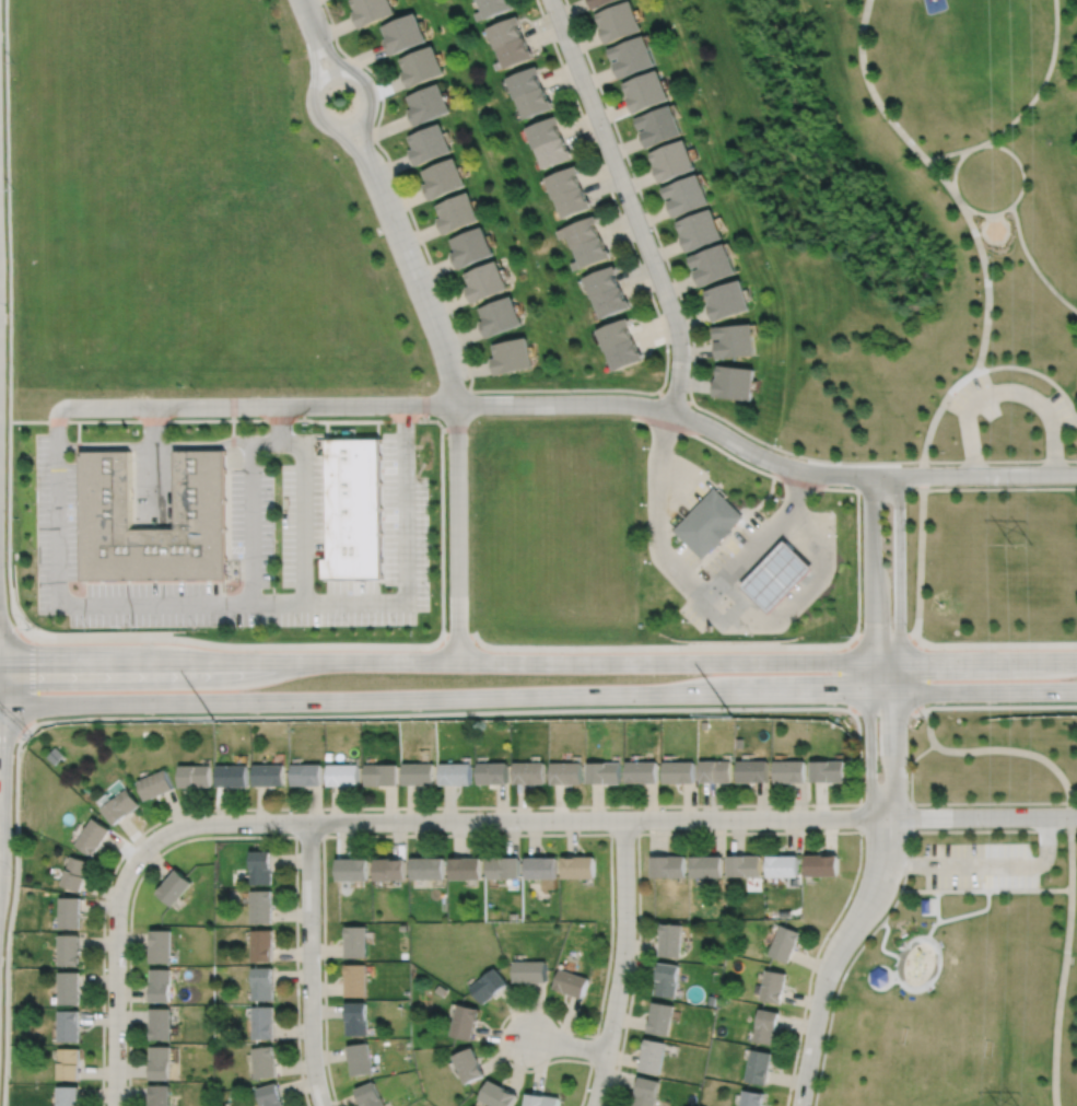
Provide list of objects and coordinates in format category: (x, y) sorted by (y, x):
building: (477, 0)
building: (604, 3)
building: (493, 9)
building: (373, 11)
road: (308, 18)
building: (621, 24)
building: (505, 34)
building: (406, 36)
street lamp: (335, 46)
road: (327, 54)
building: (515, 55)
building: (633, 56)
road: (316, 59)
building: (423, 69)
building: (526, 84)
building: (645, 88)
road: (871, 90)
building: (534, 103)
building: (430, 106)
road: (1027, 106)
road: (361, 121)
building: (658, 123)
street lamp: (610, 124)
building: (541, 128)
building: (428, 141)
road: (364, 144)
street lamp: (376, 144)
road: (353, 148)
building: (551, 150)
building: (671, 158)
road: (1017, 160)
building: (441, 176)
building: (561, 178)
building: (686, 191)
road: (959, 198)
building: (571, 199)
road: (630, 202)
road: (8, 210)
building: (455, 211)
road: (993, 214)
building: (699, 226)
building: (578, 229)
building: (995, 230)
road: (1002, 240)
building: (469, 245)
street lamp: (422, 247)
building: (588, 252)
road: (983, 258)
street lamp: (663, 259)
building: (712, 263)
road: (1033, 263)
park: (923, 271)
building: (483, 279)
building: (599, 279)
building: (727, 298)
building: (609, 300)
building: (497, 314)
street lamp: (14, 315)
building: (613, 331)
building: (735, 339)
building: (622, 352)
building: (510, 353)
road: (1038, 372)
road: (691, 381)
building: (734, 381)
street lamp: (468, 384)
road: (554, 388)
street lamp: (382, 389)
road: (1008, 391)
street lamp: (571, 392)
street lamp: (104, 393)
street lamp: (295, 393)
street lamp: (197, 394)
street lamp: (687, 394)
road: (674, 398)
parking lot: (974, 400)
road: (257, 406)
road: (455, 407)
road: (937, 414)
road: (330, 419)
road: (156, 426)
road: (377, 428)
road: (233, 431)
road: (79, 433)
road: (281, 438)
road: (155, 445)
street lamp: (646, 445)
street lamp: (772, 447)
street lamp: (277, 453)
street lamp: (417, 453)
street lamp: (32, 455)
road: (761, 455)
road: (1070, 459)
road: (679, 461)
road: (657, 462)
street lamp: (709, 468)
road: (809, 484)
road: (156, 485)
street lamp: (1012, 485)
road: (799, 488)
road: (967, 488)
building: (201, 490)
street lamp: (431, 492)
road: (678, 493)
street lamp: (908, 494)
street lamp: (277, 500)
street lamp: (32, 501)
street lamp: (643, 502)
street lamp: (862, 508)
building: (354, 510)
building: (709, 523)
gas station: (709, 523)
road: (739, 524)
road: (9, 526)
street lamp: (835, 534)
road: (303, 537)
street lamp: (431, 543)
street lamp: (277, 545)
power tower: (1020, 545)
street lamp: (33, 548)
parking lot: (670, 550)
road: (747, 550)
parking lot: (243, 551)
road: (406, 555)
road: (667, 560)
street lamp: (647, 561)
street lamp: (704, 575)
road: (920, 575)
building: (777, 577)
gas station: (777, 577)
street lamp: (277, 591)
street lamp: (432, 592)
street lamp: (34, 594)
road: (804, 597)
road: (139, 605)
street lamp: (684, 621)
building: (640, 624)
street lamp: (398, 625)
street lamp: (351, 626)
street lamp: (242, 627)
street lamp: (304, 627)
street lamp: (862, 627)
road: (16, 628)
street lamp: (134, 628)
street lamp: (196, 628)
street lamp: (909, 628)
street lamp: (30, 629)
street lamp: (89, 629)
street lamp: (31, 631)
street lamp: (750, 633)
street lamp: (189, 635)
street lamp: (850, 635)
road: (183, 640)
street lamp: (497, 640)
road: (998, 644)
road: (621, 647)
road: (898, 647)
road: (871, 648)
road: (538, 661)
road: (847, 675)
road: (538, 692)
road: (961, 706)
street lamp: (909, 726)
street lamp: (862, 727)
road: (986, 748)
building: (56, 754)
building: (829, 769)
building: (643, 770)
building: (716, 770)
building: (753, 770)
building: (791, 770)
building: (679, 771)
building: (493, 772)
building: (530, 772)
building: (566, 772)
building: (605, 772)
building: (269, 773)
building: (306, 773)
building: (343, 773)
building: (382, 773)
building: (419, 773)
building: (455, 773)
building: (195, 775)
building: (233, 775)
road: (911, 775)
building: (155, 784)
road: (993, 802)
road: (812, 804)
building: (120, 806)
street lamp: (773, 807)
street lamp: (400, 811)
road: (859, 817)
road: (608, 818)
street lamp: (156, 826)
street lamp: (983, 827)
street lamp: (645, 829)
road: (1074, 829)
street lamp: (523, 830)
road: (992, 830)
road: (623, 831)
street lamp: (286, 833)
road: (576, 833)
road: (753, 833)
building: (92, 836)
road: (308, 836)
road: (231, 837)
street lamp: (863, 837)
street lamp: (910, 840)
road: (909, 854)
building: (744, 863)
building: (822, 863)
building: (668, 864)
building: (706, 864)
building: (783, 864)
parking lot: (980, 865)
road: (987, 865)
building: (504, 866)
building: (541, 866)
building: (578, 866)
road: (17, 868)
building: (261, 868)
building: (353, 868)
building: (390, 868)
building: (429, 868)
building: (466, 868)
building: (74, 873)
building: (176, 886)
road: (985, 889)
building: (262, 906)
building: (925, 906)
road: (937, 906)
building: (785, 911)
building: (68, 912)
road: (960, 915)
building: (514, 916)
street lamp: (635, 919)
street lamp: (127, 922)
street lamp: (320, 922)
park: (970, 923)
building: (405, 927)
street lamp: (830, 934)
building: (670, 938)
building: (356, 941)
building: (785, 941)
building: (262, 944)
building: (163, 945)
road: (935, 945)
building: (68, 950)
road: (833, 956)
road: (1064, 961)
road: (621, 963)
road: (309, 965)
building: (531, 970)
road: (116, 973)
road: (895, 974)
building: (879, 976)
building: (667, 978)
building: (356, 979)
building: (262, 982)
building: (571, 982)
building: (162, 985)
building: (491, 985)
building: (773, 985)
building: (68, 987)
road: (882, 988)
building: (441, 989)
road: (838, 990)
building: (712, 998)
building: (659, 1017)
building: (356, 1018)
building: (467, 1021)
building: (162, 1023)
building: (262, 1023)
building: (68, 1025)
building: (766, 1025)
street lamp: (621, 1031)
street lamp: (300, 1040)
park: (934, 1040)
road: (567, 1045)
street lamp: (105, 1046)
road: (593, 1049)
street lamp: (798, 1053)
building: (652, 1055)
building: (360, 1058)
building: (161, 1062)
building: (265, 1062)
building: (68, 1063)
building: (472, 1064)
building: (759, 1066)
street lamp: (529, 1068)
building: (645, 1092)
building: (501, 1094)
building: (67, 1095)
building: (161, 1095)
building: (270, 1095)
building: (370, 1095)
building: (751, 1097)
building: (543, 1099)

